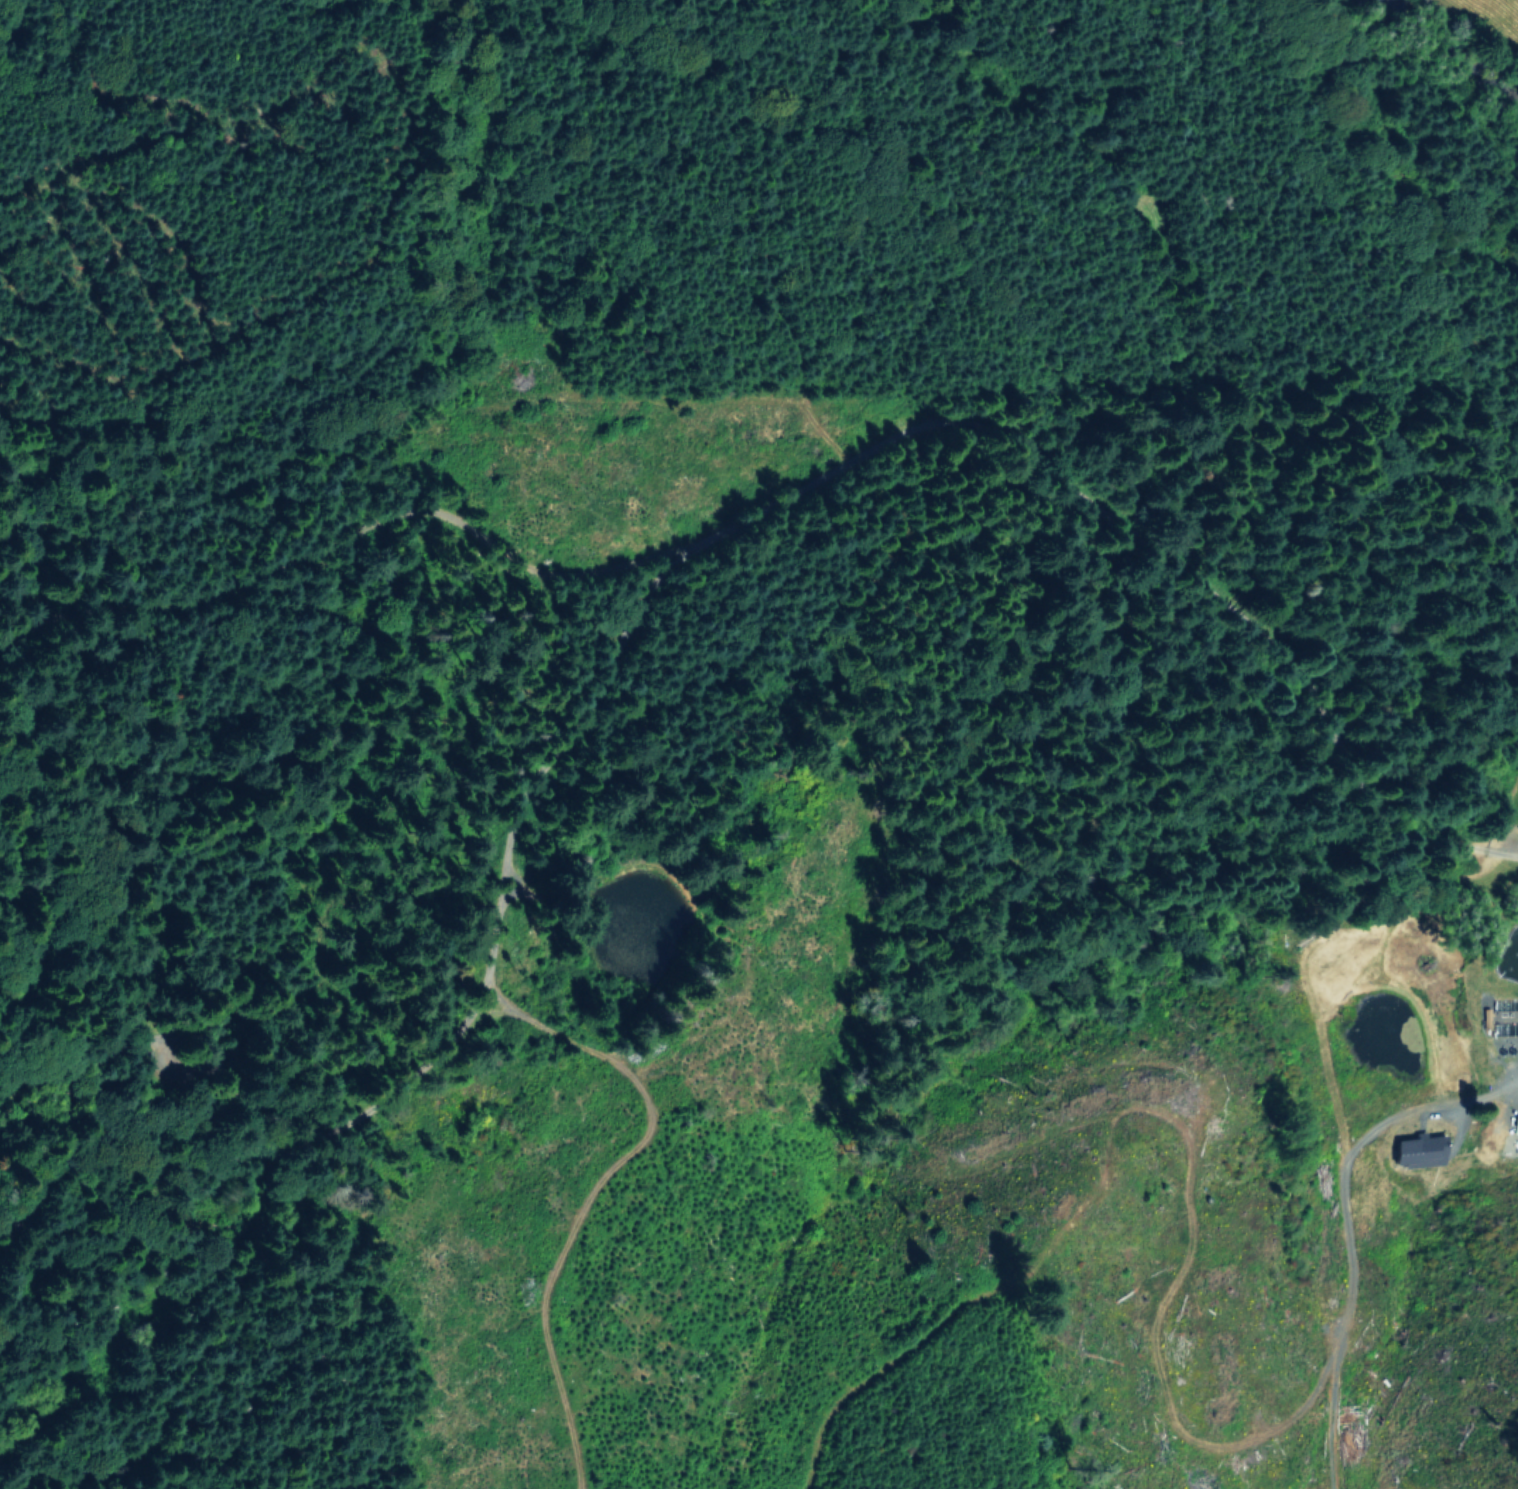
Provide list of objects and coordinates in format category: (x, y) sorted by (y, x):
road: (1497, 848)
road: (1469, 1095)
building: (1426, 1149)

